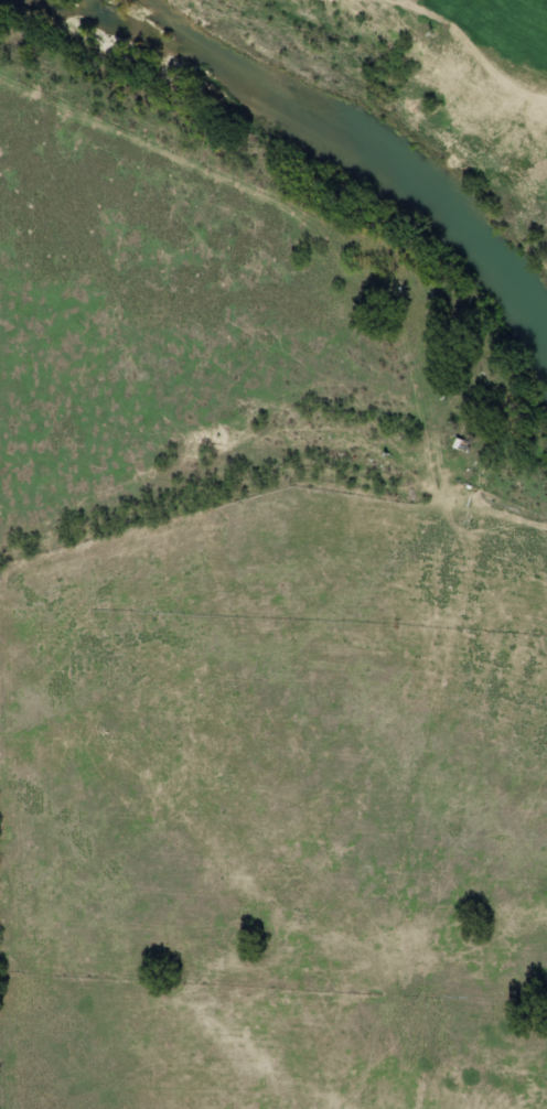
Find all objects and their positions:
road: (541, 1)
river: (315, 136)

